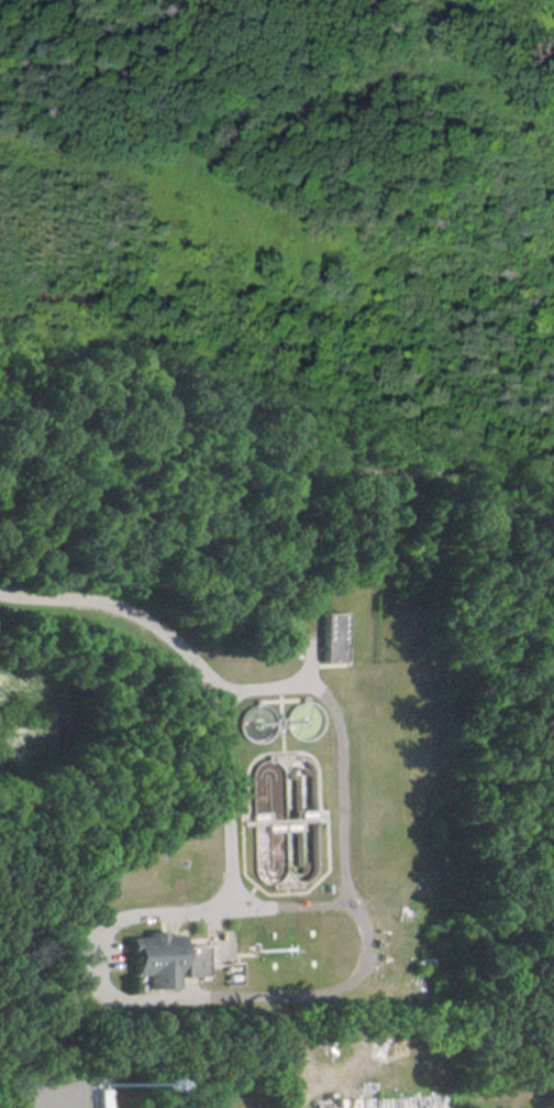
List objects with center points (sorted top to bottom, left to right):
road: (106, 601)
building: (325, 636)
wastewater plant: (285, 831)
road: (324, 898)
road: (144, 908)
building: (159, 957)
road: (35, 1102)

